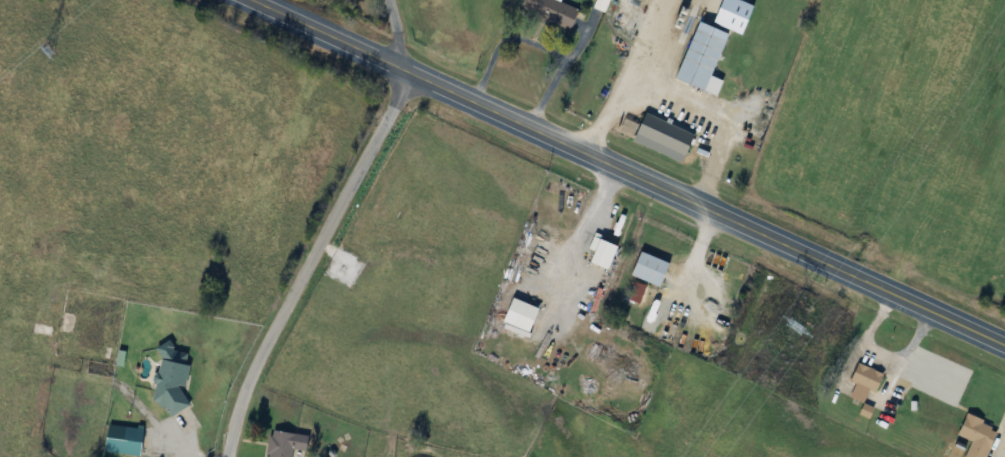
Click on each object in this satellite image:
building: (551, 12)
road: (396, 35)
road: (499, 39)
power tower: (50, 53)
building: (705, 56)
road: (554, 74)
road: (675, 99)
building: (666, 135)
road: (622, 173)
building: (605, 253)
road: (309, 263)
building: (651, 268)
building: (524, 315)
power tower: (797, 327)
building: (172, 379)
building: (866, 382)
building: (978, 436)
building: (124, 440)
building: (287, 443)
building: (418, 456)

